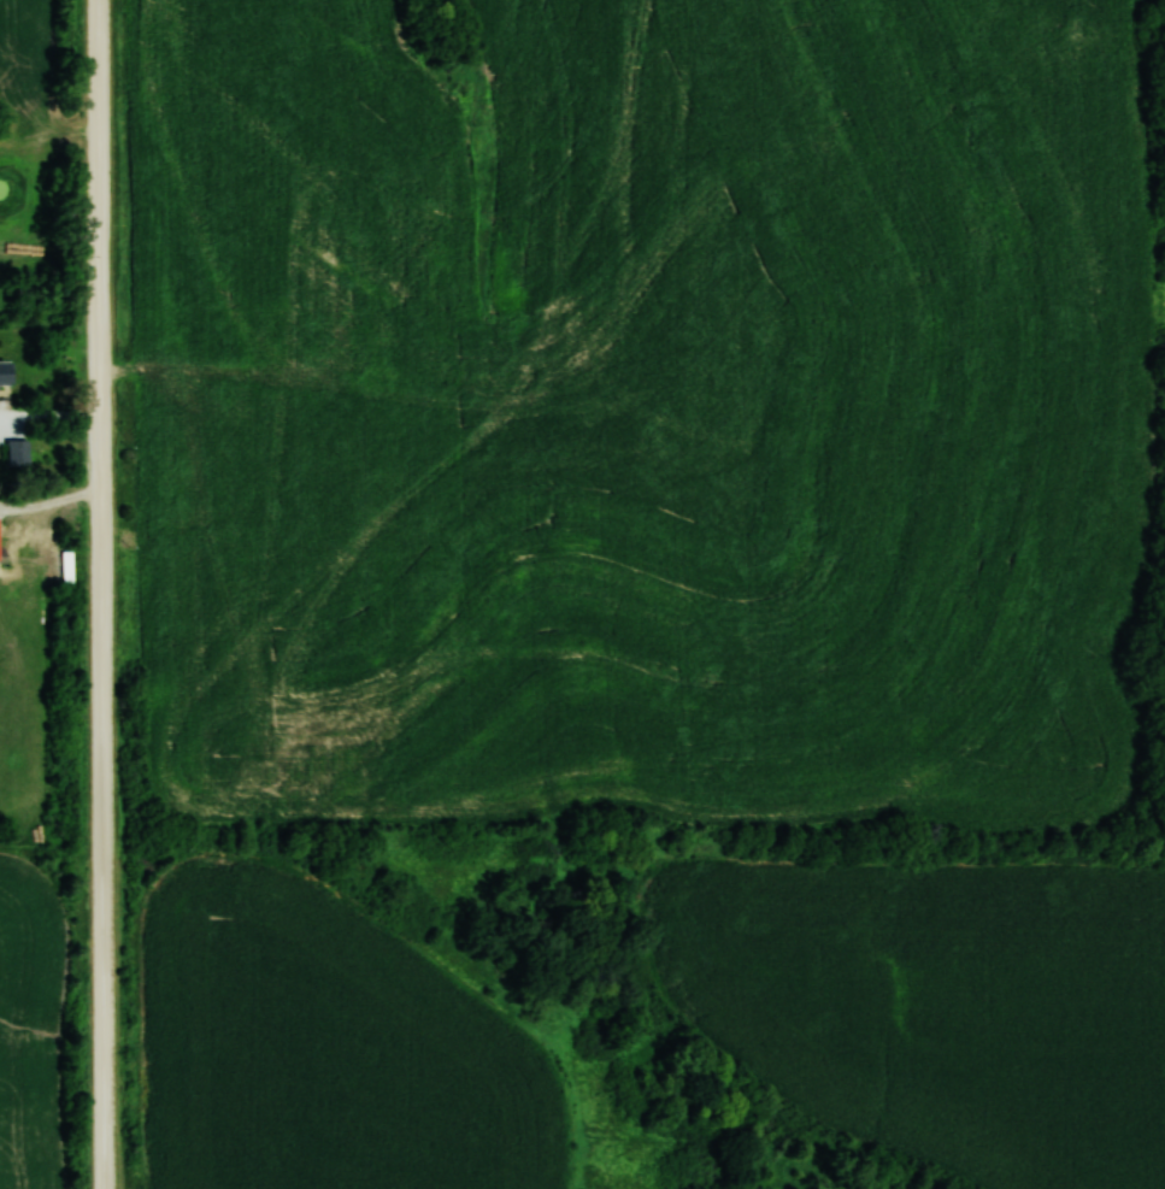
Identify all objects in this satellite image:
building: (5, 372)
road: (104, 594)

